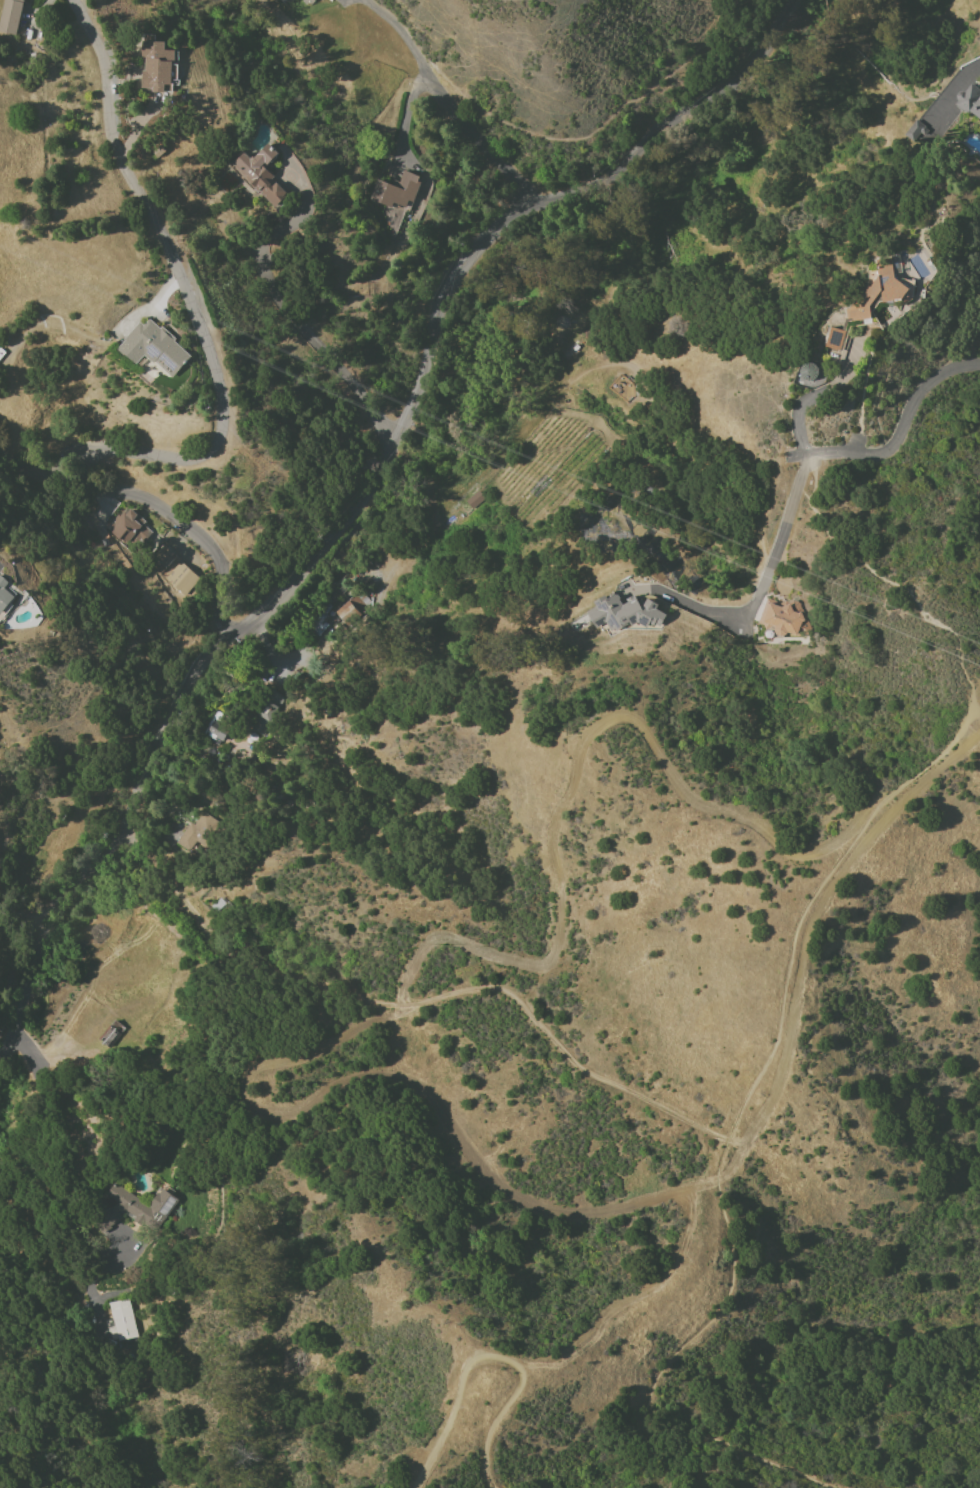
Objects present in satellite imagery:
building: (282, 1)
building: (287, 1)
building: (14, 17)
building: (160, 65)
road: (448, 100)
building: (971, 102)
building: (266, 176)
building: (400, 192)
road: (189, 290)
building: (880, 294)
road: (151, 303)
road: (290, 305)
building: (839, 340)
building: (157, 348)
building: (2, 356)
building: (626, 390)
road: (798, 417)
road: (33, 461)
road: (798, 480)
road: (138, 493)
road: (364, 494)
building: (133, 530)
building: (165, 556)
building: (185, 580)
road: (903, 589)
road: (218, 594)
building: (5, 597)
building: (356, 610)
building: (626, 613)
building: (786, 617)
building: (319, 627)
building: (273, 707)
road: (975, 713)
building: (262, 726)
building: (220, 729)
building: (192, 838)
building: (223, 906)
road: (20, 912)
road: (418, 1003)
building: (116, 1035)
road: (723, 1145)
building: (135, 1210)
building: (126, 1321)
road: (491, 1356)

